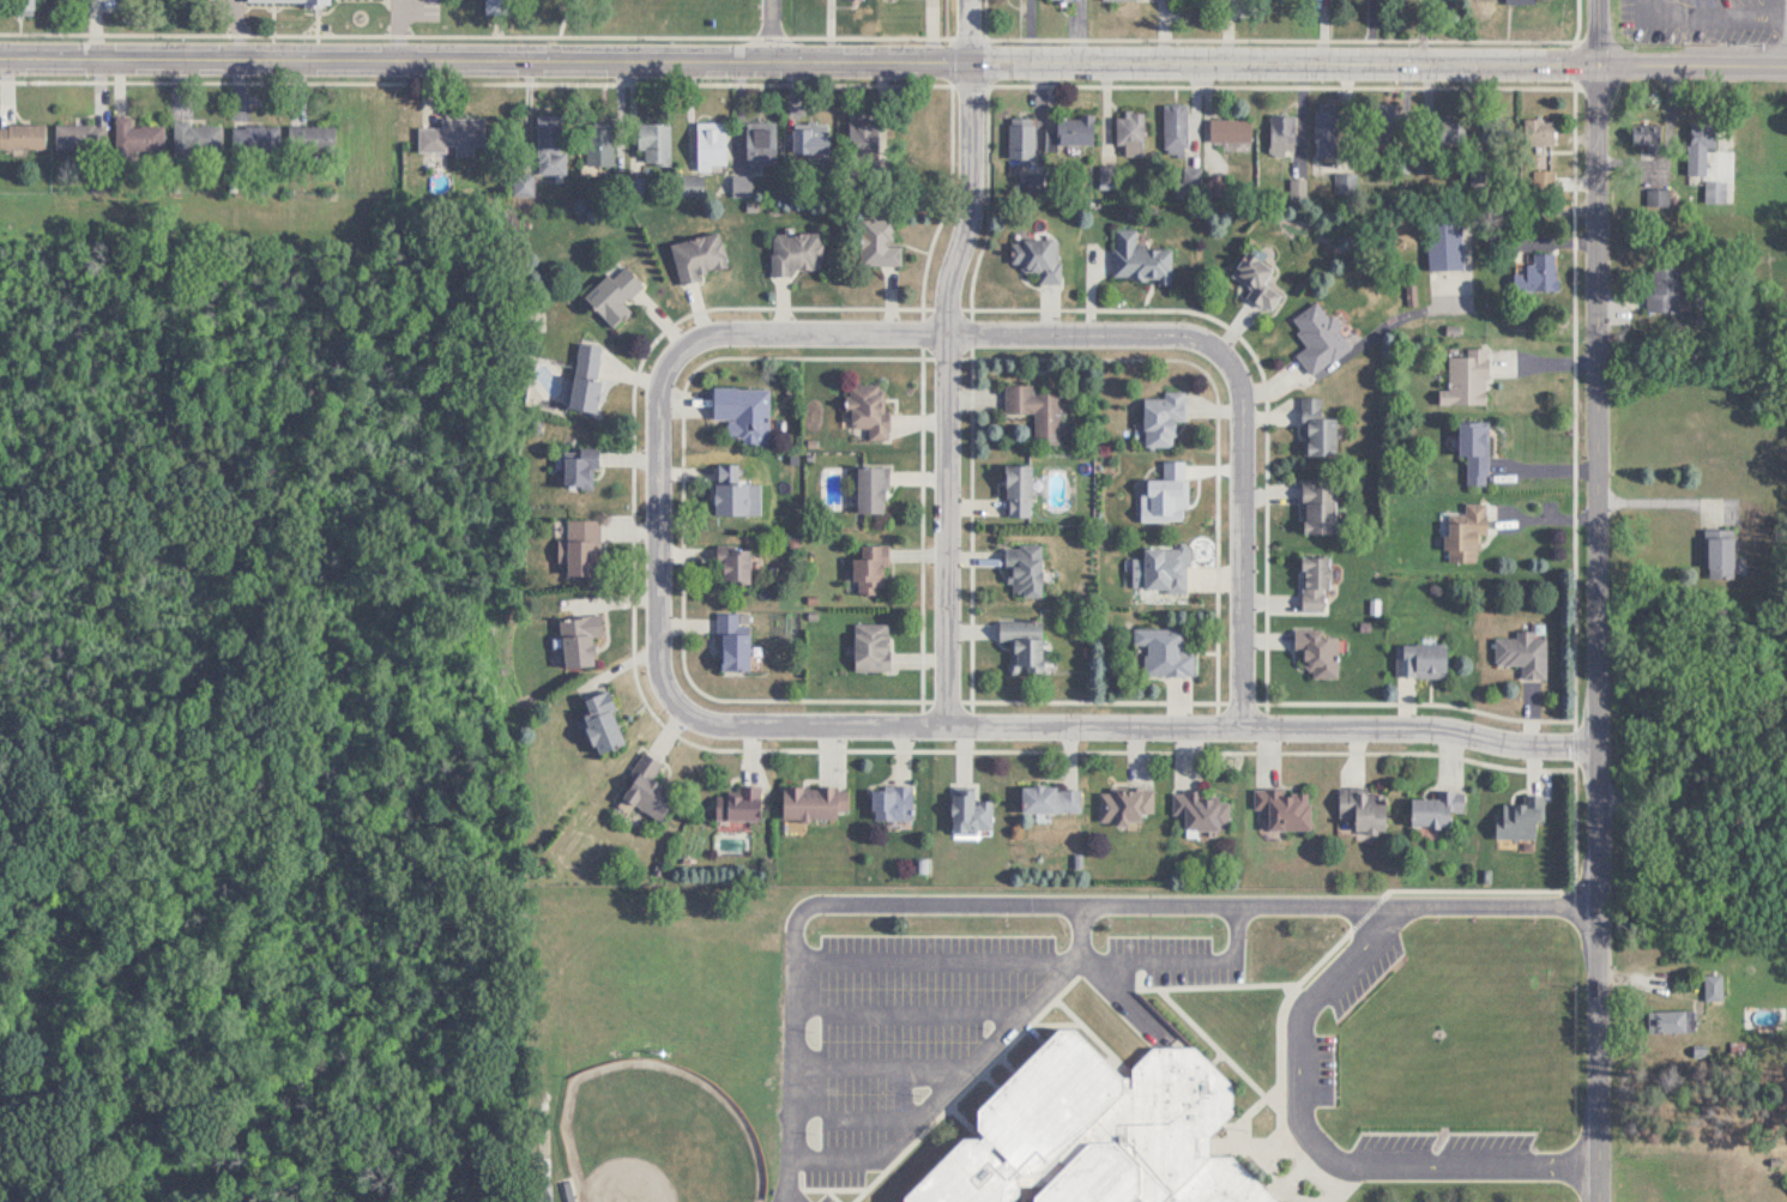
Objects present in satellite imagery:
building: (1527, 1)
building: (315, 4)
building: (495, 6)
road: (1719, 12)
road: (239, 26)
road: (407, 26)
road: (771, 29)
road: (1692, 56)
road: (799, 58)
building: (1385, 122)
building: (1327, 128)
building: (1176, 129)
building: (1230, 129)
building: (1457, 131)
building: (1070, 132)
building: (1130, 133)
building: (1281, 133)
building: (1539, 133)
building: (22, 135)
building: (454, 135)
building: (79, 137)
building: (135, 137)
building: (197, 137)
building: (315, 137)
building: (862, 137)
building: (255, 138)
building: (1647, 138)
building: (810, 141)
building: (653, 143)
building: (1021, 143)
building: (547, 144)
building: (760, 144)
building: (600, 145)
building: (710, 145)
building: (1701, 146)
building: (1716, 192)
building: (1659, 198)
building: (1447, 241)
building: (877, 243)
building: (796, 253)
building: (699, 255)
building: (1038, 258)
building: (1141, 259)
building: (1545, 272)
building: (1256, 280)
building: (1664, 289)
building: (614, 294)
road: (1377, 331)
road: (956, 332)
building: (1320, 337)
road: (946, 362)
building: (585, 376)
building: (1467, 377)
building: (868, 409)
building: (1037, 411)
building: (743, 412)
building: (1163, 418)
building: (1317, 429)
building: (1475, 451)
building: (579, 471)
building: (730, 489)
building: (871, 489)
building: (1018, 490)
road: (1666, 501)
building: (1318, 507)
road: (658, 527)
road: (1246, 532)
building: (1467, 533)
building: (582, 549)
building: (1720, 552)
building: (733, 567)
building: (870, 569)
building: (1024, 569)
building: (1165, 569)
building: (1315, 584)
road: (1600, 600)
building: (579, 639)
building: (1024, 641)
building: (733, 642)
building: (871, 646)
building: (1165, 651)
building: (1318, 652)
building: (1525, 653)
building: (1421, 660)
building: (600, 723)
road: (1137, 730)
building: (648, 789)
building: (1050, 799)
building: (813, 803)
building: (892, 803)
building: (739, 804)
building: (1125, 804)
building: (1285, 808)
building: (1364, 809)
building: (1436, 809)
building: (1203, 810)
building: (970, 813)
building: (1520, 817)
road: (1694, 817)
road: (1052, 902)
road: (1082, 931)
road: (1237, 931)
road: (1015, 959)
building: (1714, 986)
road: (1122, 998)
road: (905, 1013)
building: (1671, 1020)
road: (880, 1067)
road: (944, 1092)
road: (853, 1118)
building: (1097, 1131)
park: (658, 1135)
road: (1316, 1143)
road: (791, 1198)

